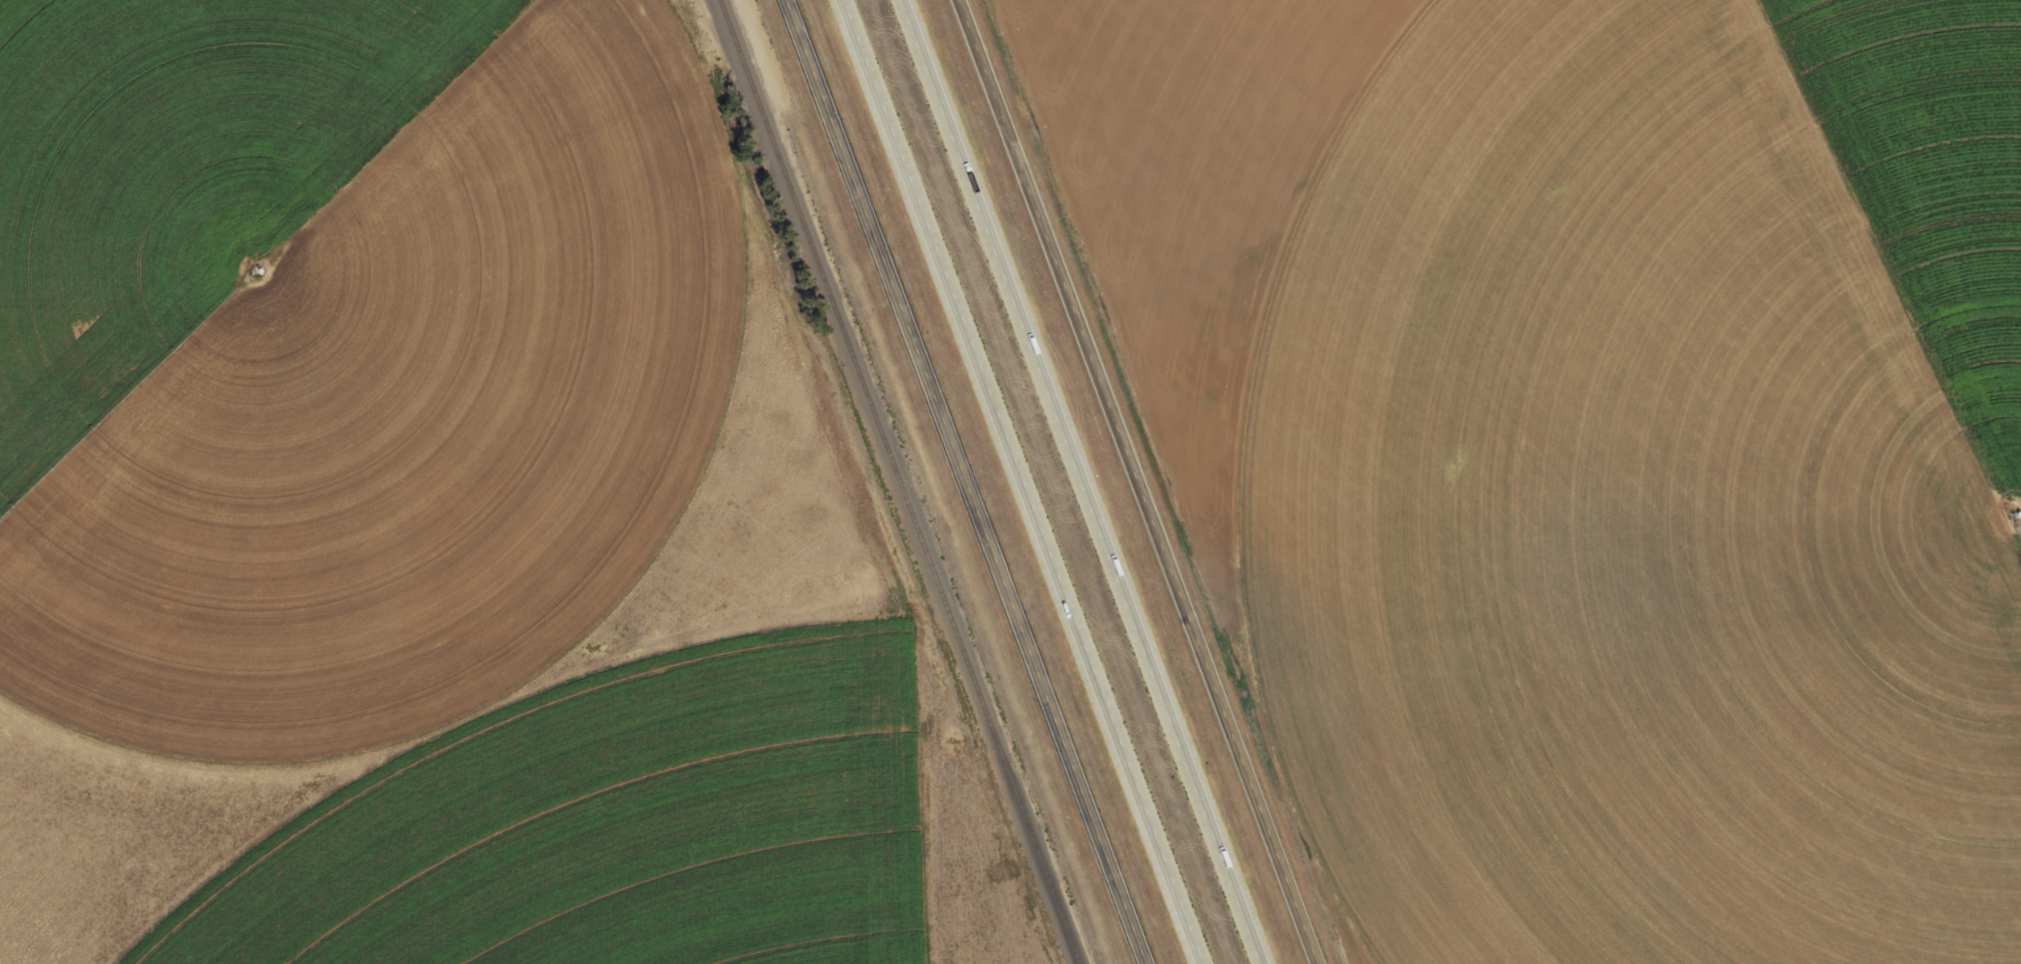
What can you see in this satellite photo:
road: (1913, 121)
road: (1024, 481)
road: (1085, 481)
railway: (901, 482)
road: (968, 482)
road: (1145, 482)

